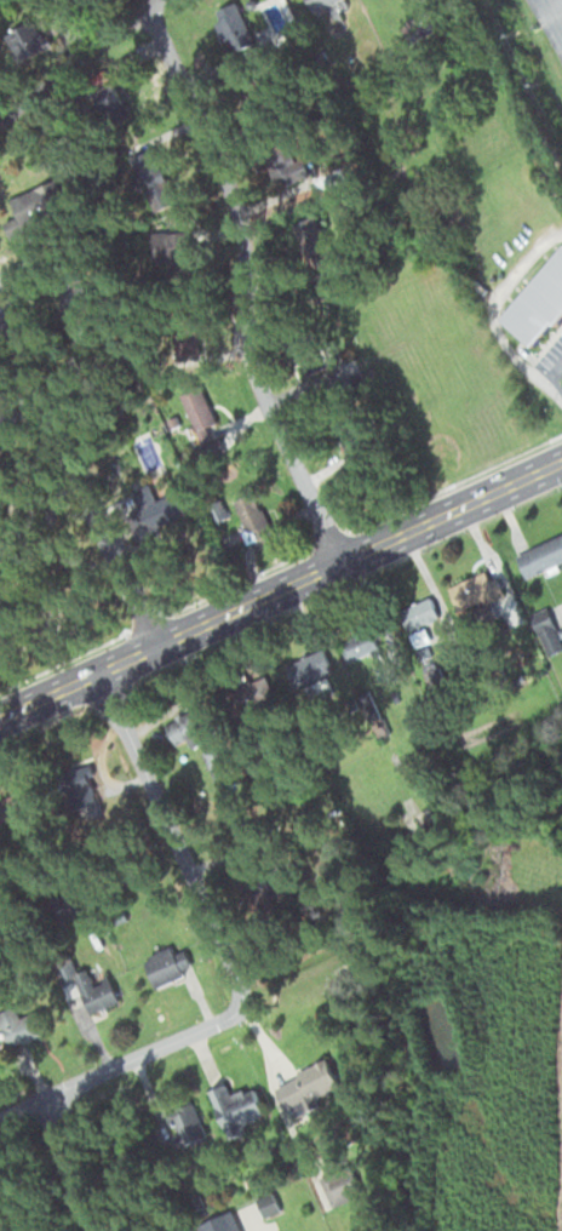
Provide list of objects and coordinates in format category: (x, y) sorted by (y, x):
road: (561, 0)
building: (319, 4)
building: (233, 25)
road: (78, 63)
building: (286, 165)
building: (36, 207)
building: (168, 247)
road: (241, 288)
building: (75, 298)
building: (537, 302)
building: (184, 339)
building: (202, 416)
road: (23, 428)
building: (212, 448)
road: (560, 465)
road: (76, 482)
building: (165, 506)
building: (251, 516)
building: (547, 551)
road: (281, 592)
building: (474, 594)
building: (418, 636)
building: (360, 646)
building: (432, 675)
building: (314, 679)
building: (187, 728)
building: (216, 760)
building: (368, 771)
building: (84, 788)
building: (417, 820)
road: (176, 846)
building: (94, 994)
building: (28, 1026)
road: (196, 1036)
building: (305, 1088)
building: (237, 1106)
building: (183, 1123)
road: (68, 1166)
building: (342, 1191)
building: (224, 1223)
road: (263, 1230)

